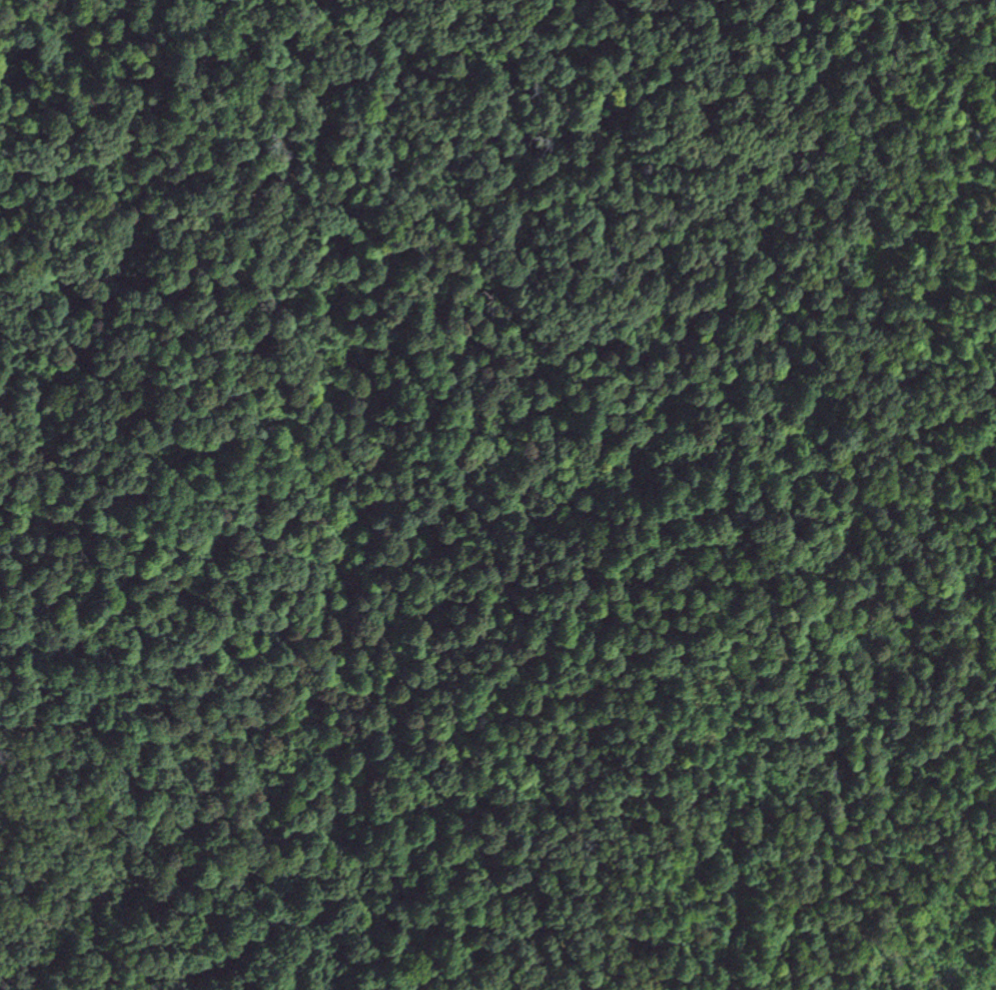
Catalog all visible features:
road: (925, 878)

